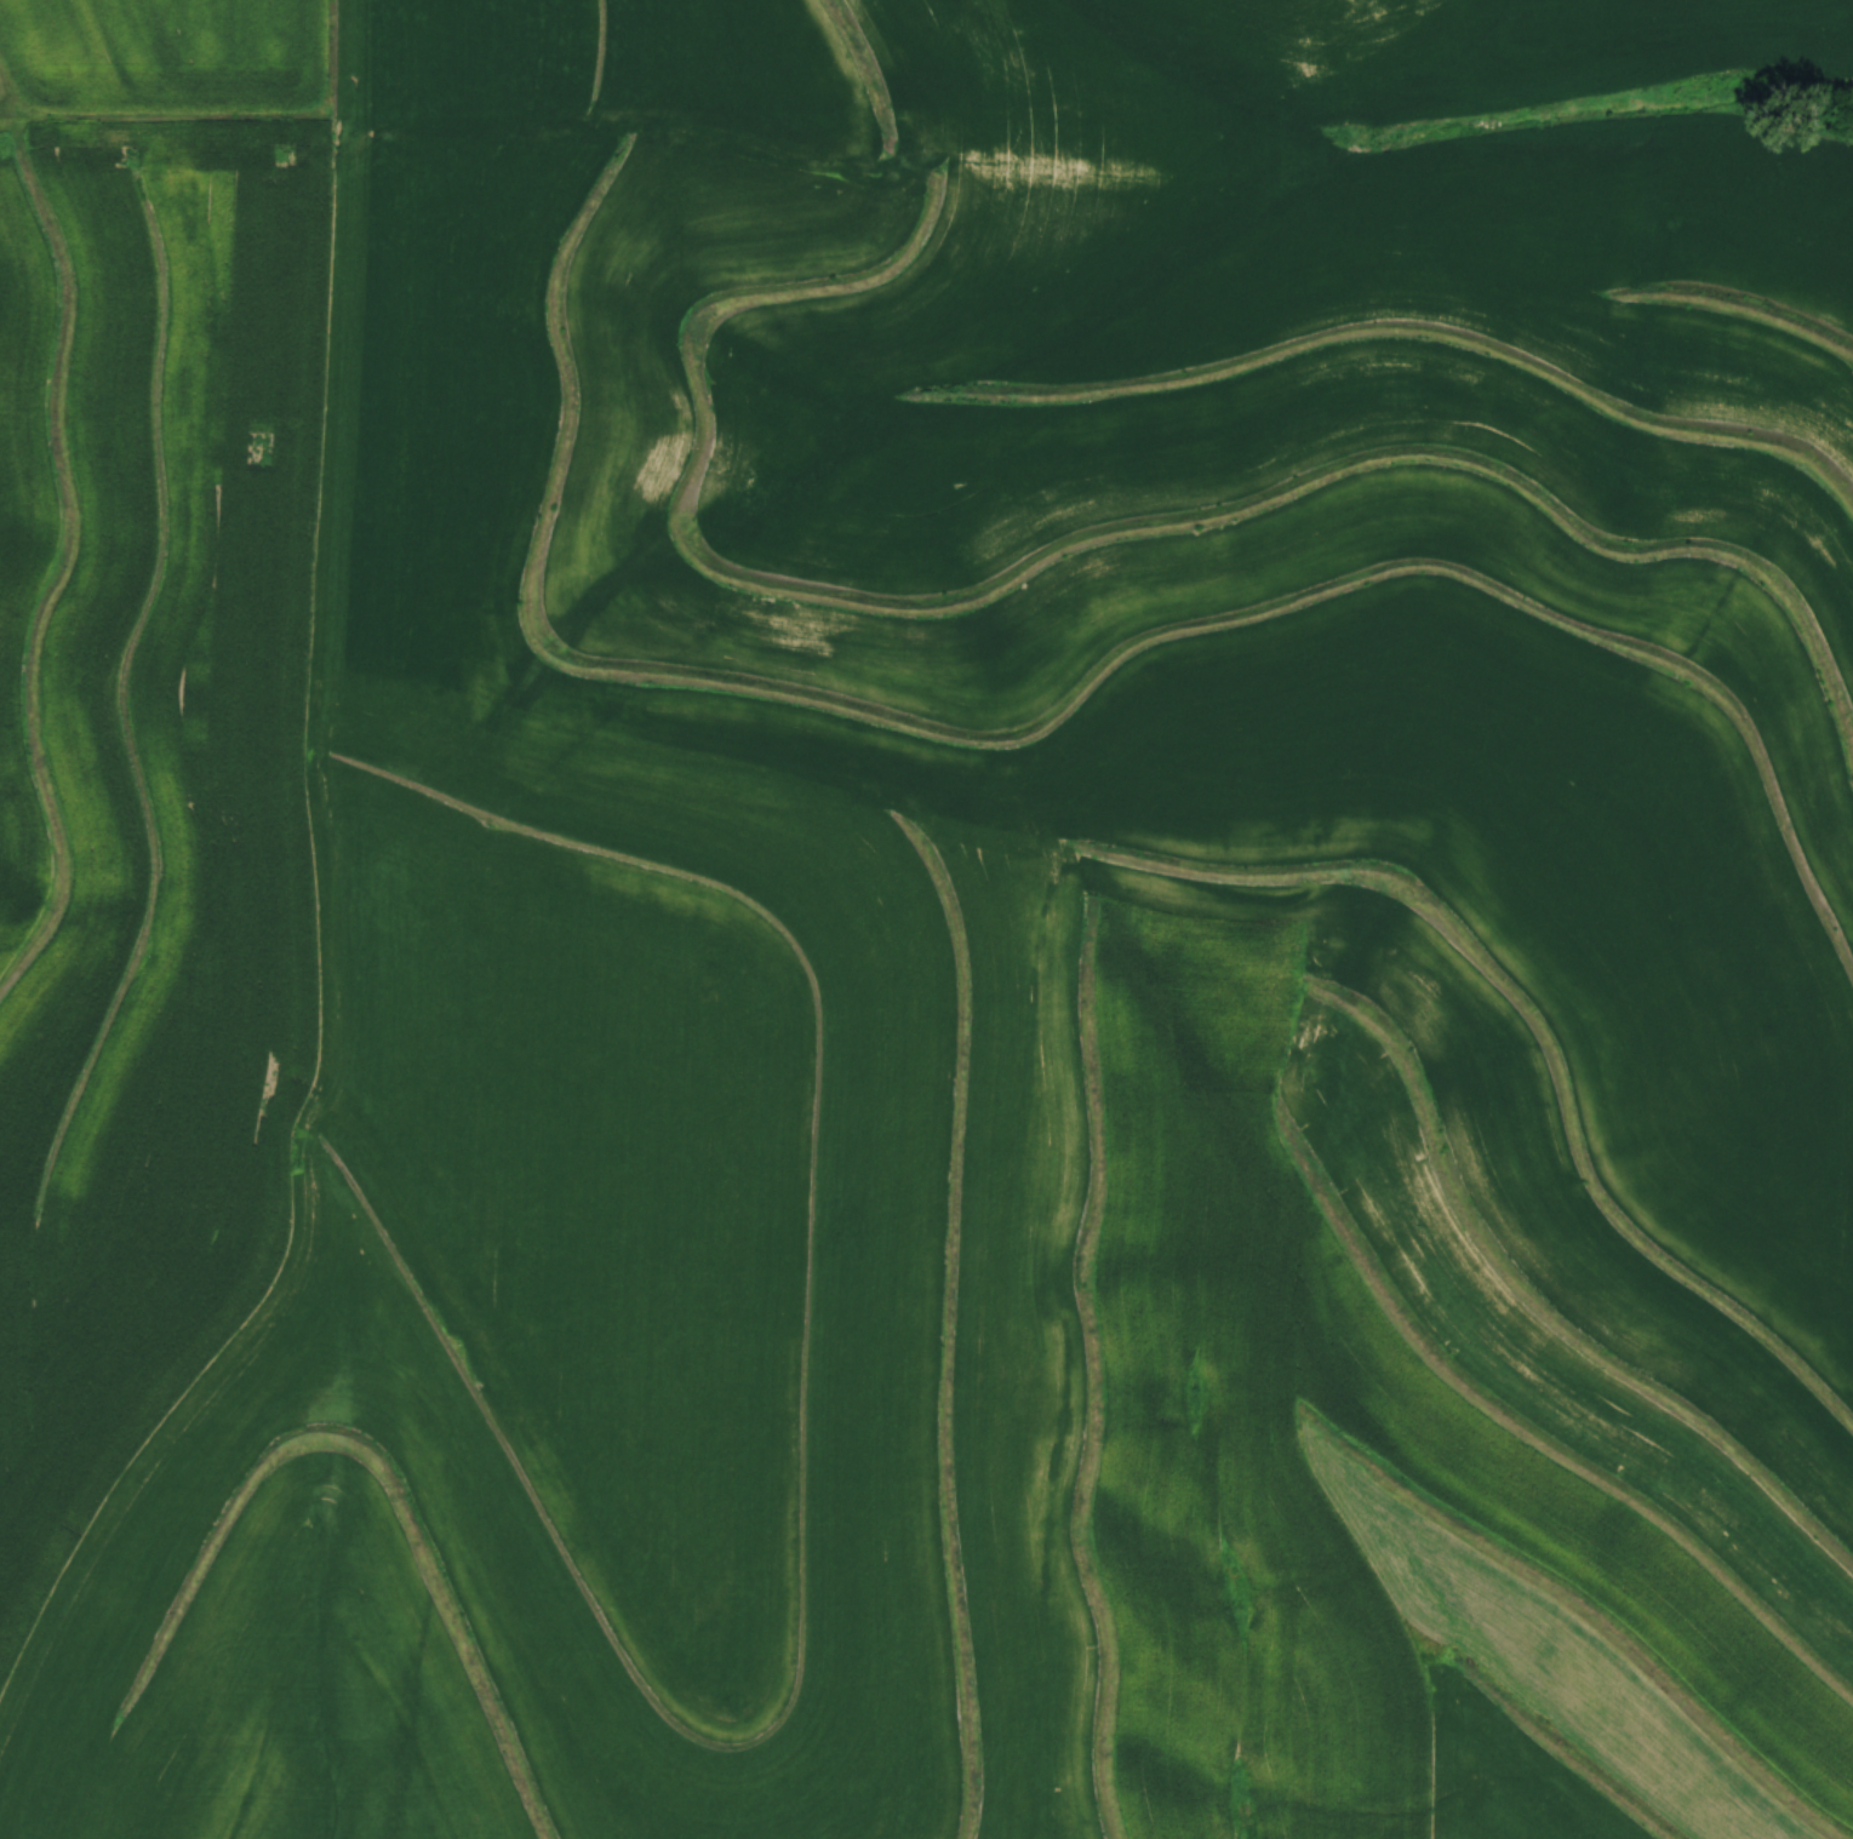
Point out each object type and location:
building: (842, 1221)

